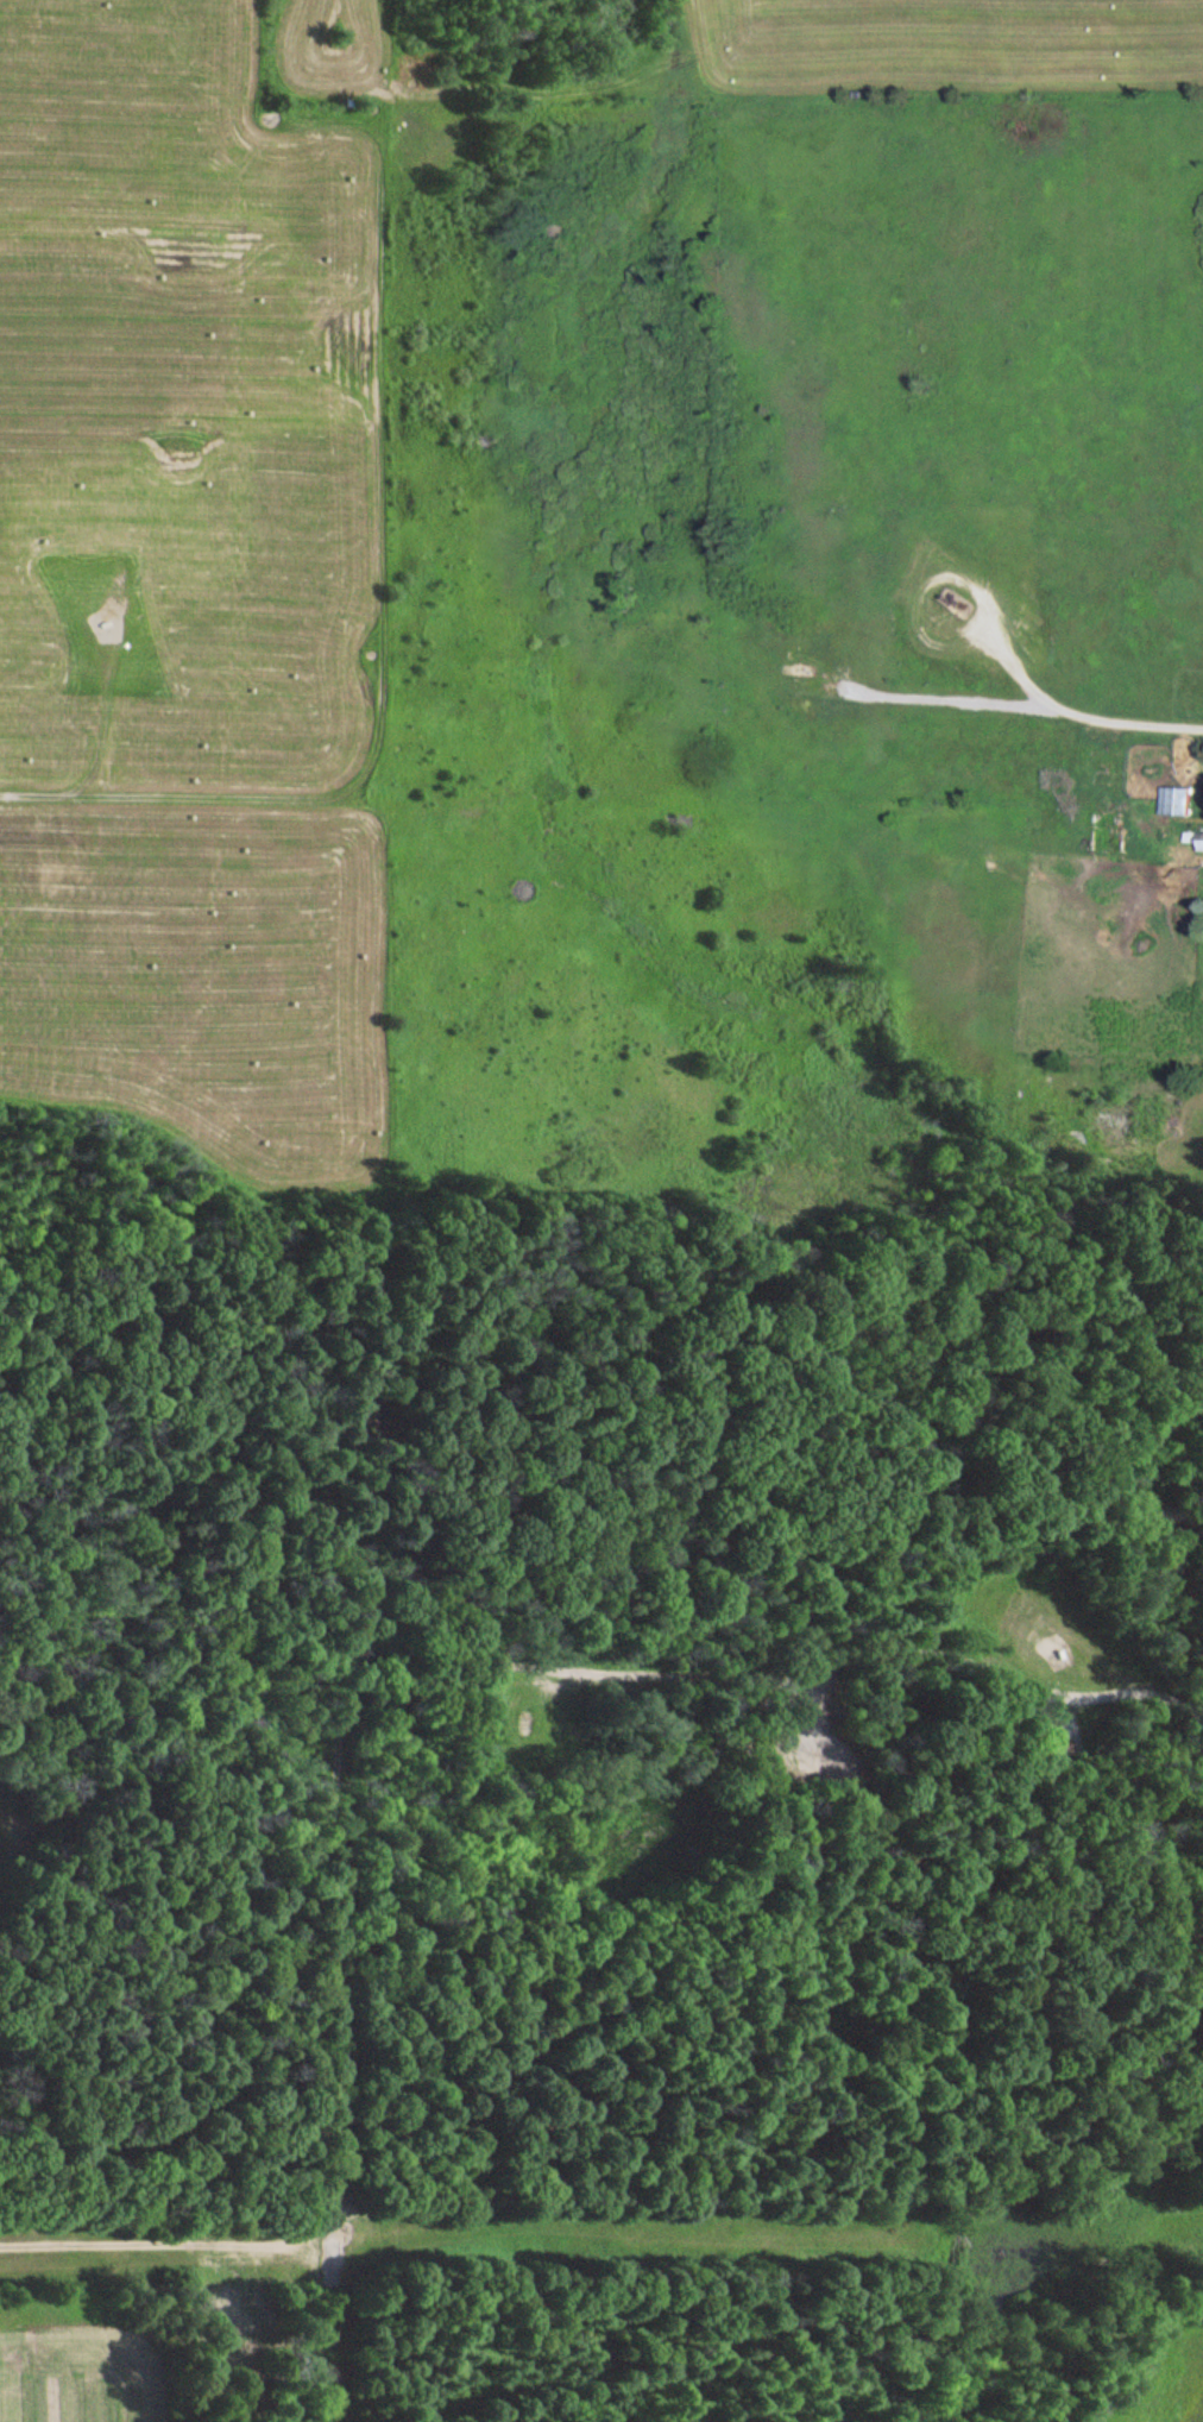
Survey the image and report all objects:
petroleum well: (956, 591)
road: (1070, 709)
building: (1177, 800)
road: (685, 1667)

